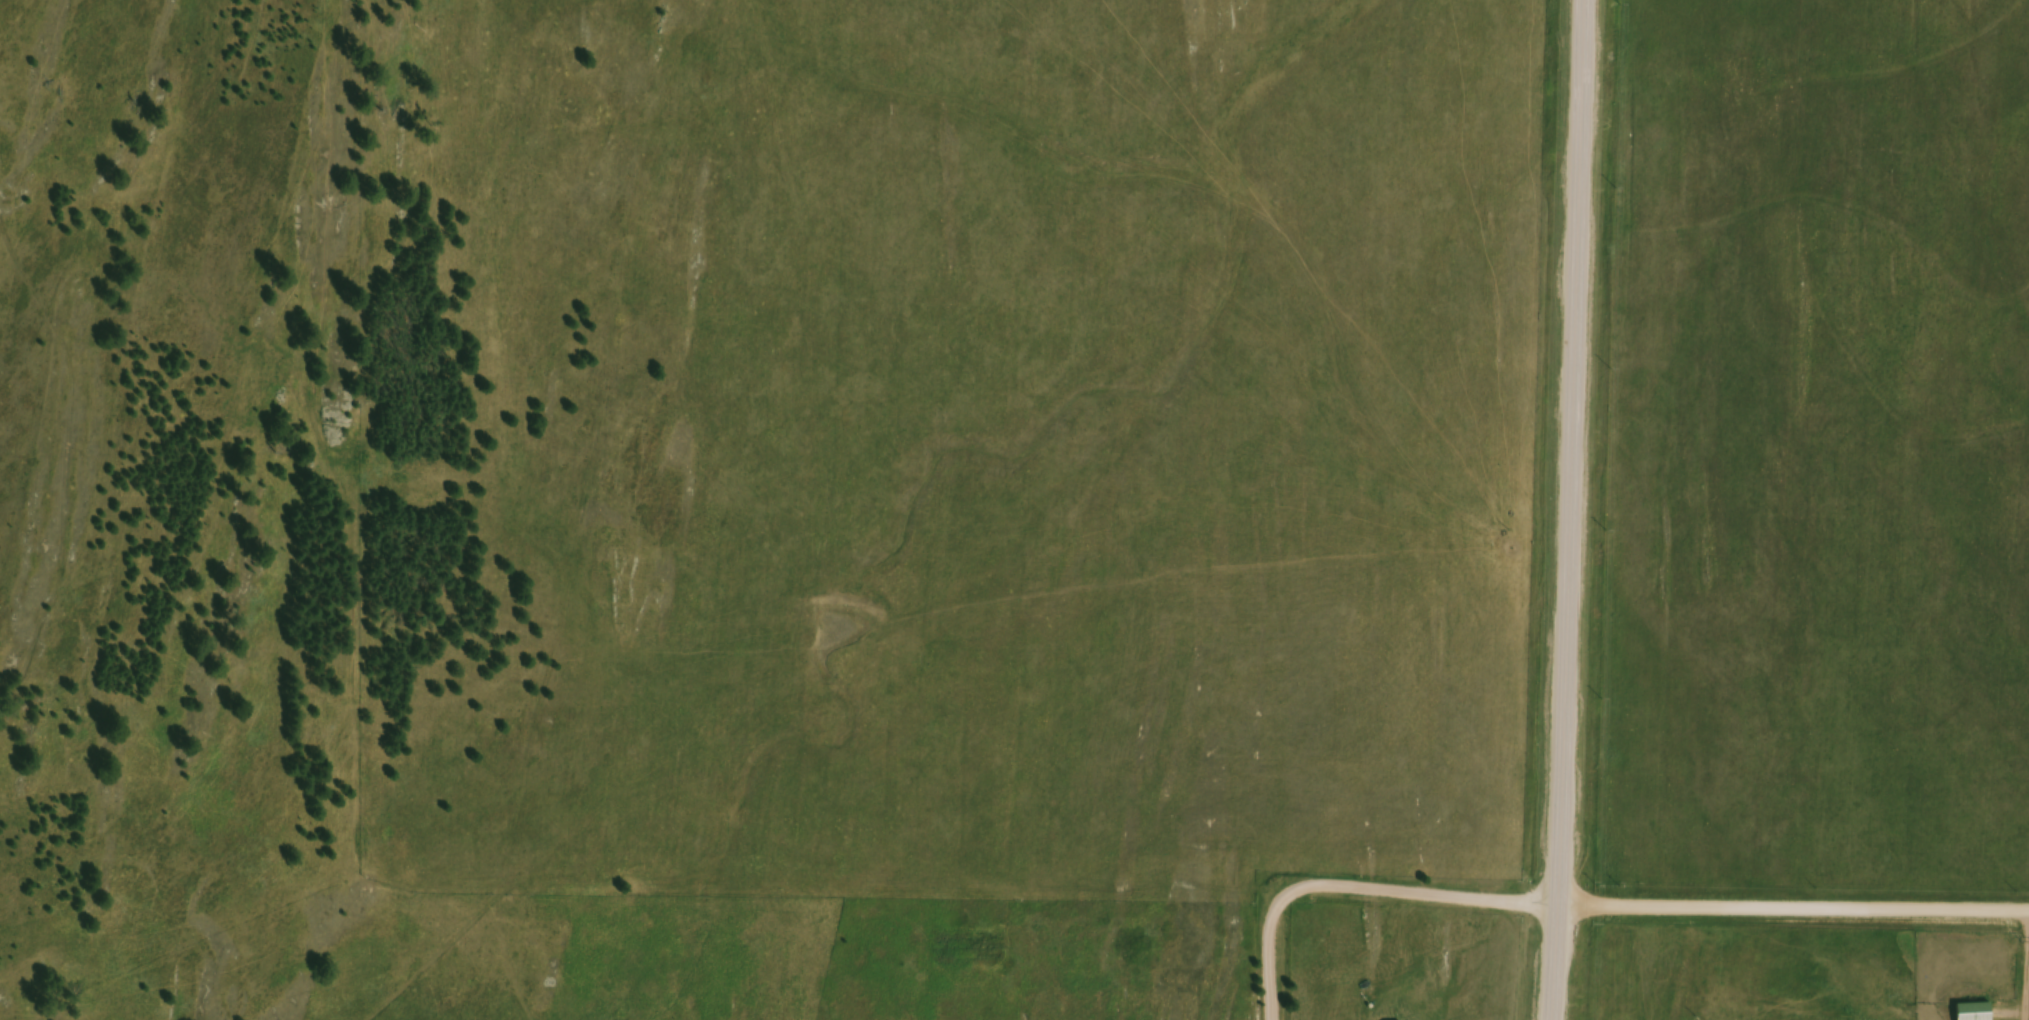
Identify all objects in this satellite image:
road: (1568, 453)
road: (1590, 908)
road: (1552, 964)
building: (1979, 1013)

